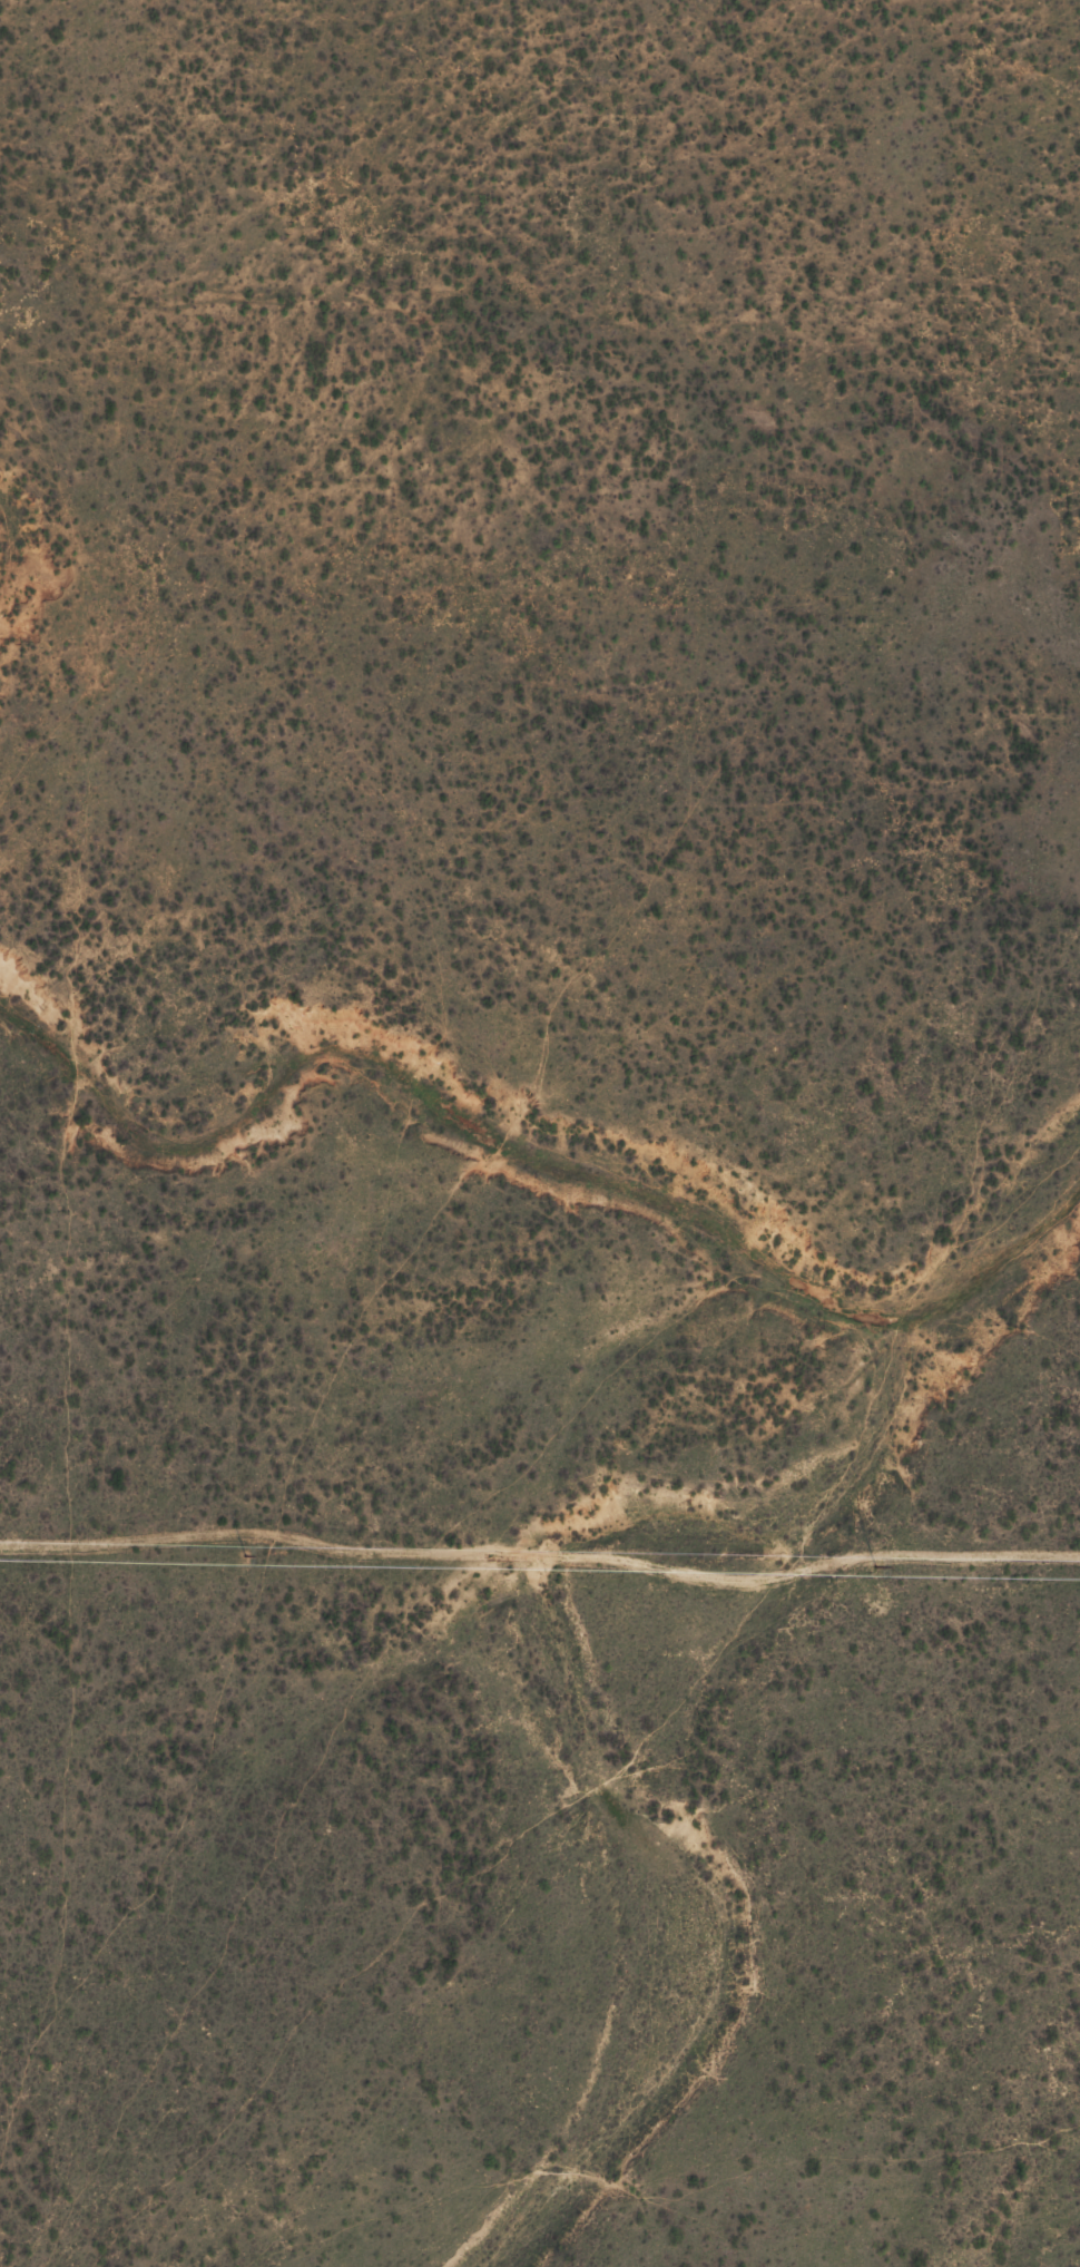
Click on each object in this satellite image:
power tower: (244, 1554)
power tower: (873, 1565)

